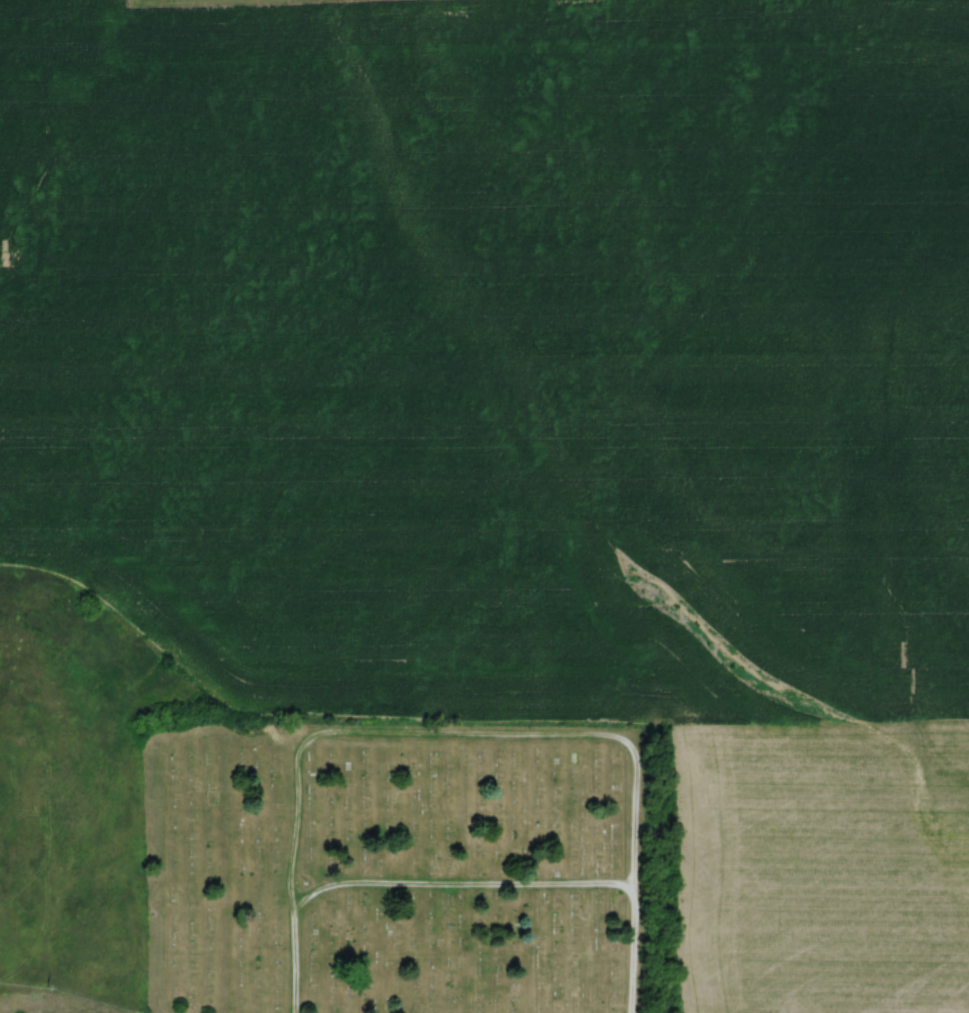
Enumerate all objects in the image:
road: (512, 737)
park: (398, 866)
road: (409, 887)

